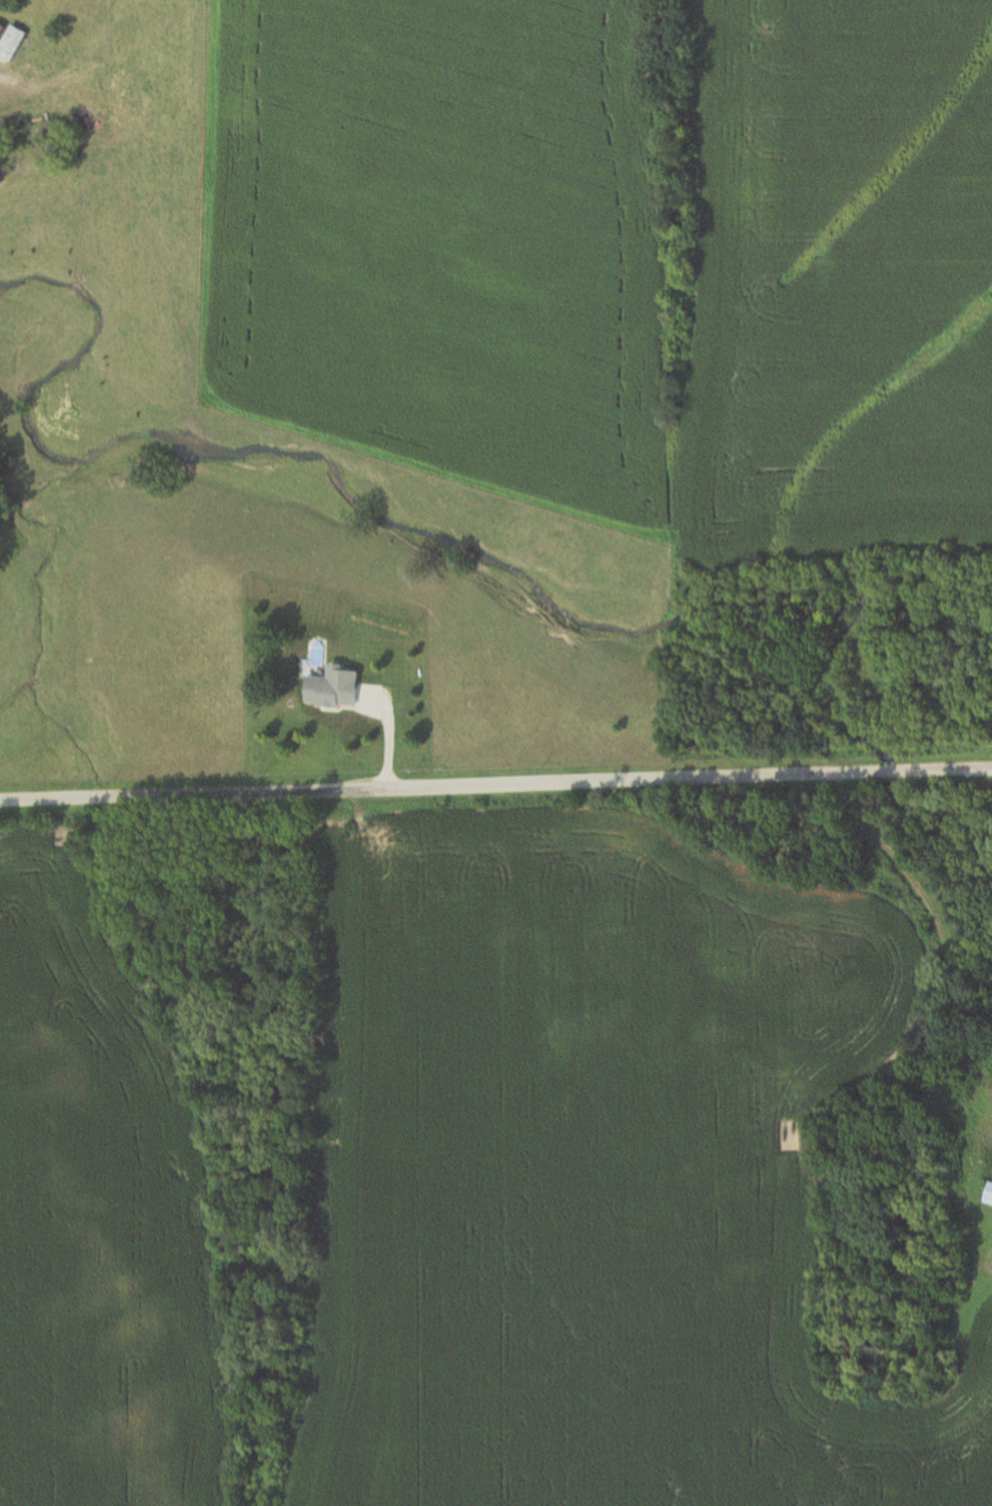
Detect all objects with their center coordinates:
building: (0, 27)
building: (0, 28)
building: (9, 43)
building: (334, 691)
road: (944, 770)
road: (889, 772)
road: (440, 786)
road: (910, 883)
building: (989, 1198)

